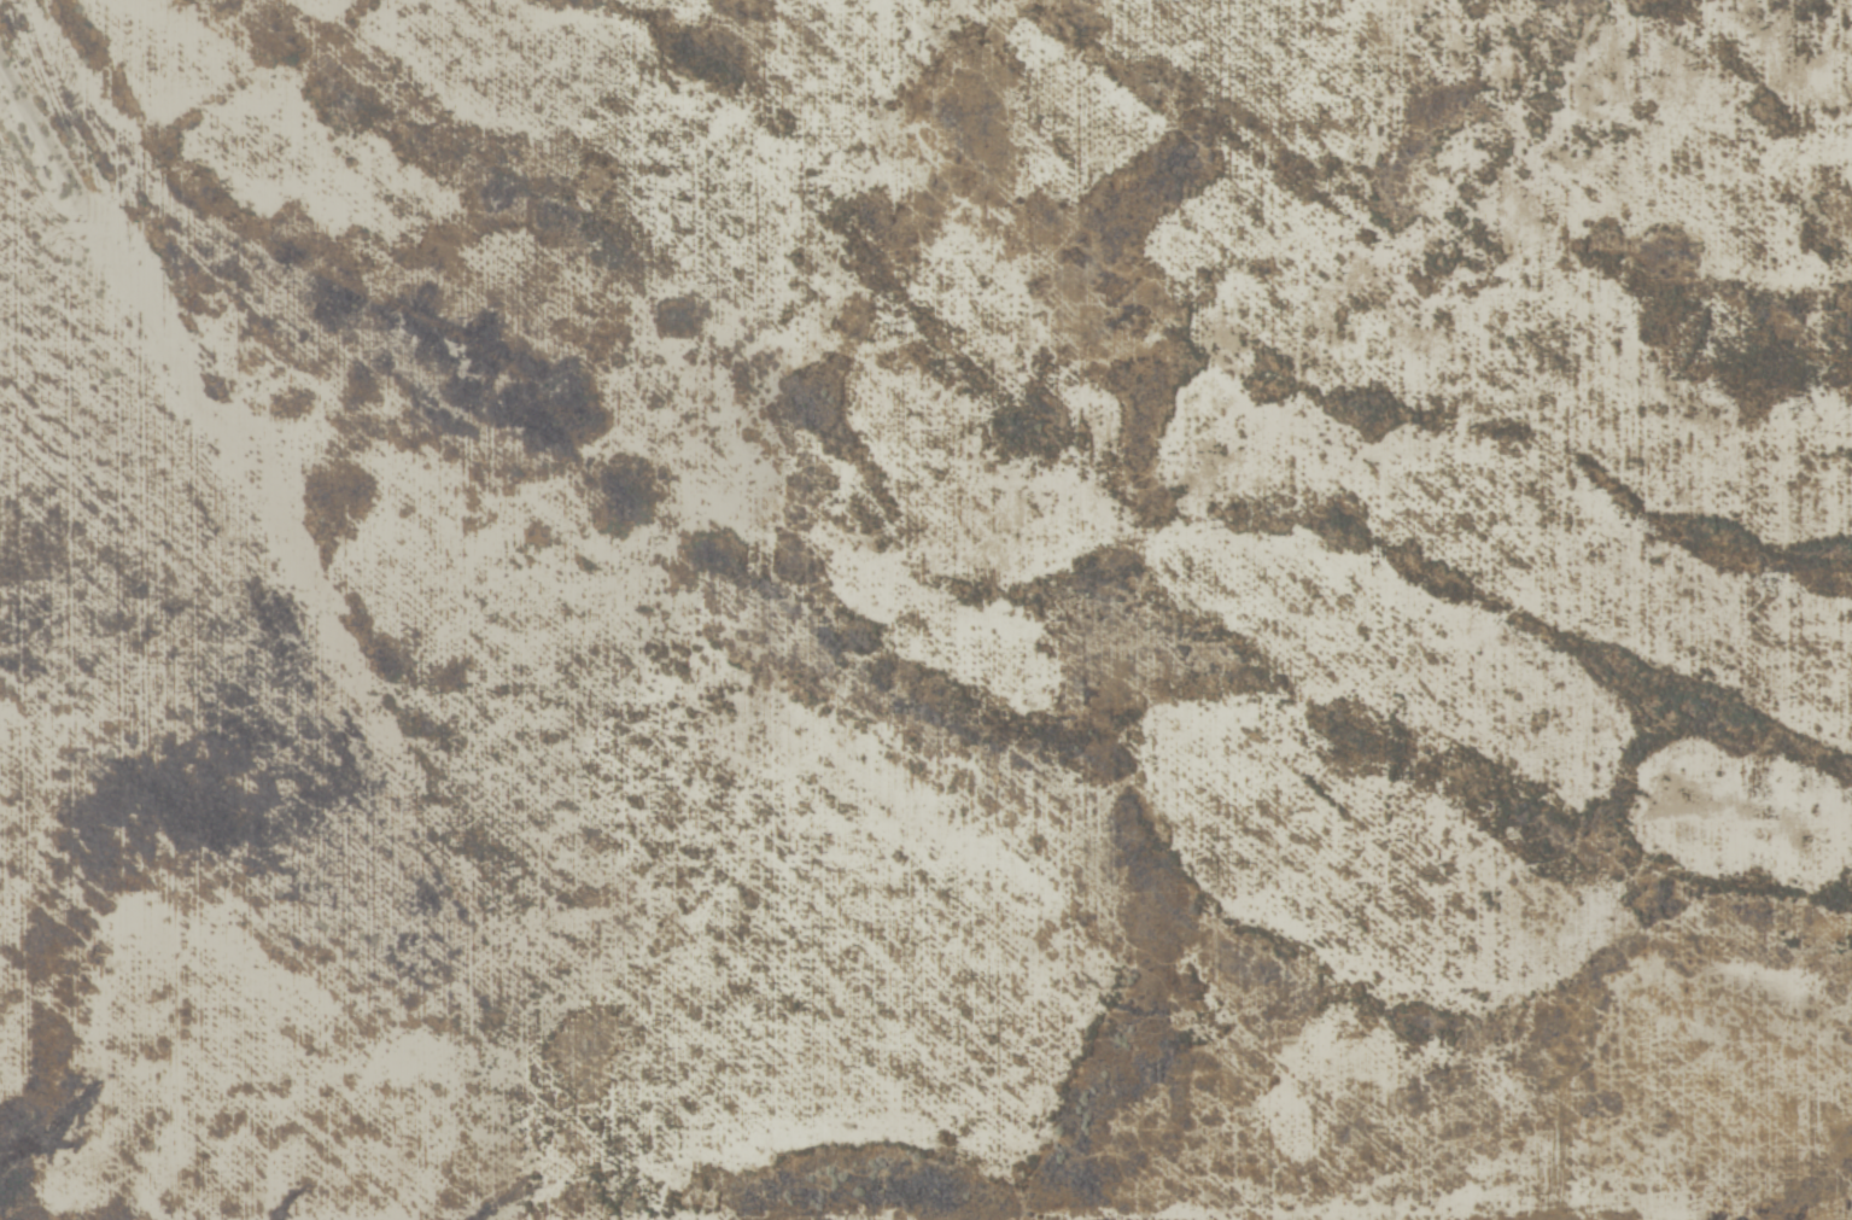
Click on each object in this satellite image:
crop: (995, 1192)

